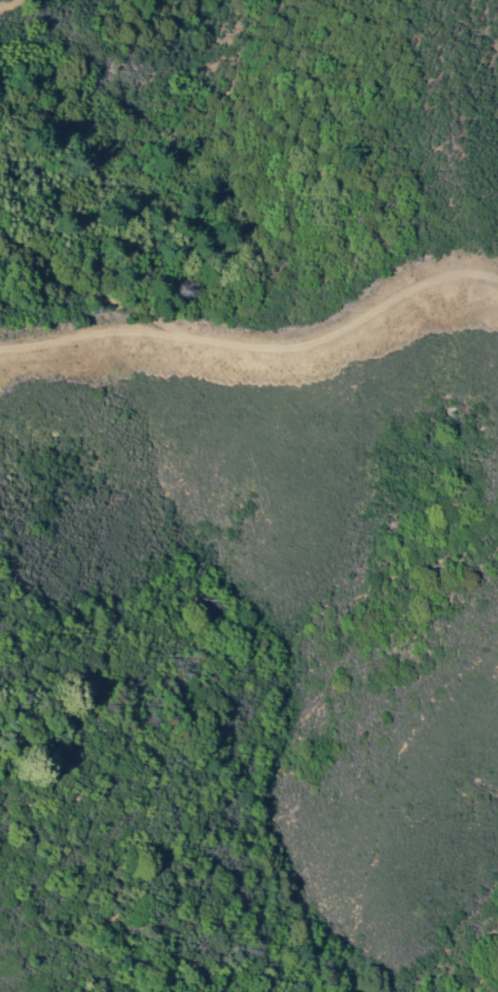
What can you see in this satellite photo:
road: (258, 354)

